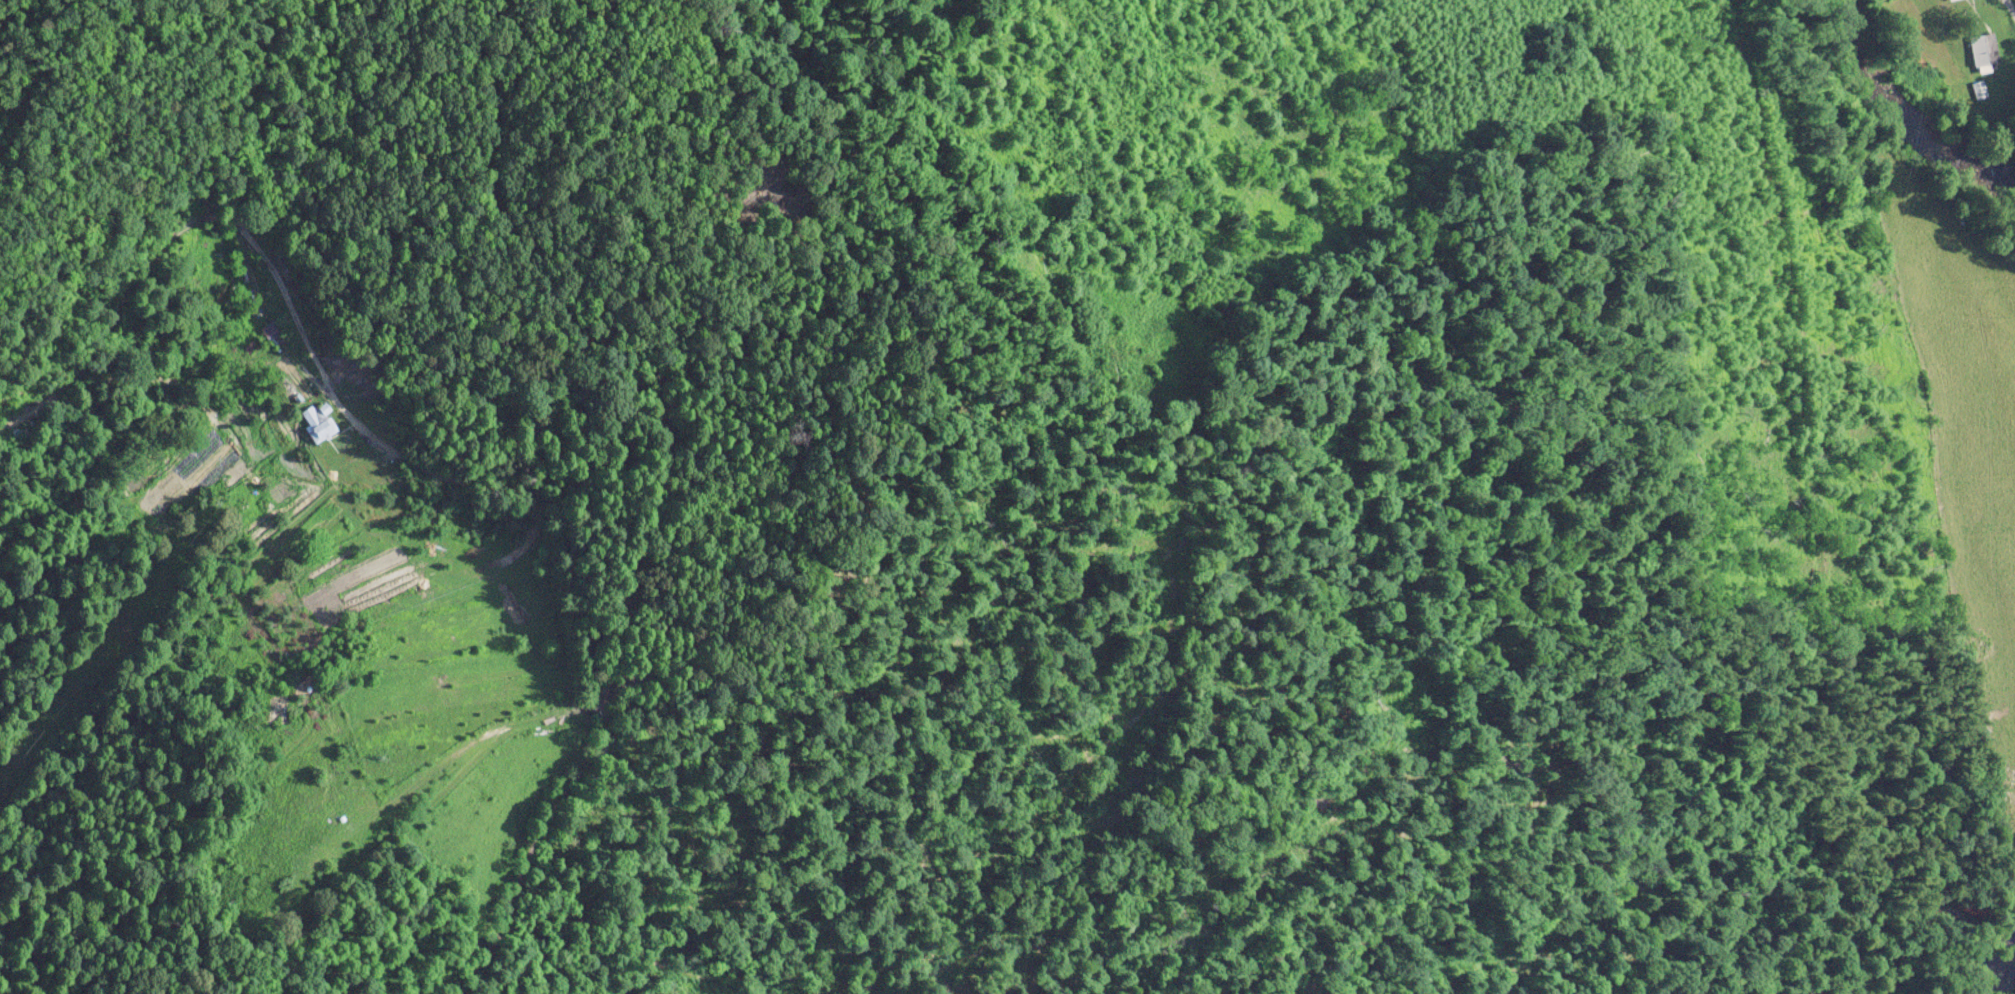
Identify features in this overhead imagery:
building: (1982, 48)
building: (1978, 89)
building: (271, 333)
building: (318, 420)
road: (539, 591)

